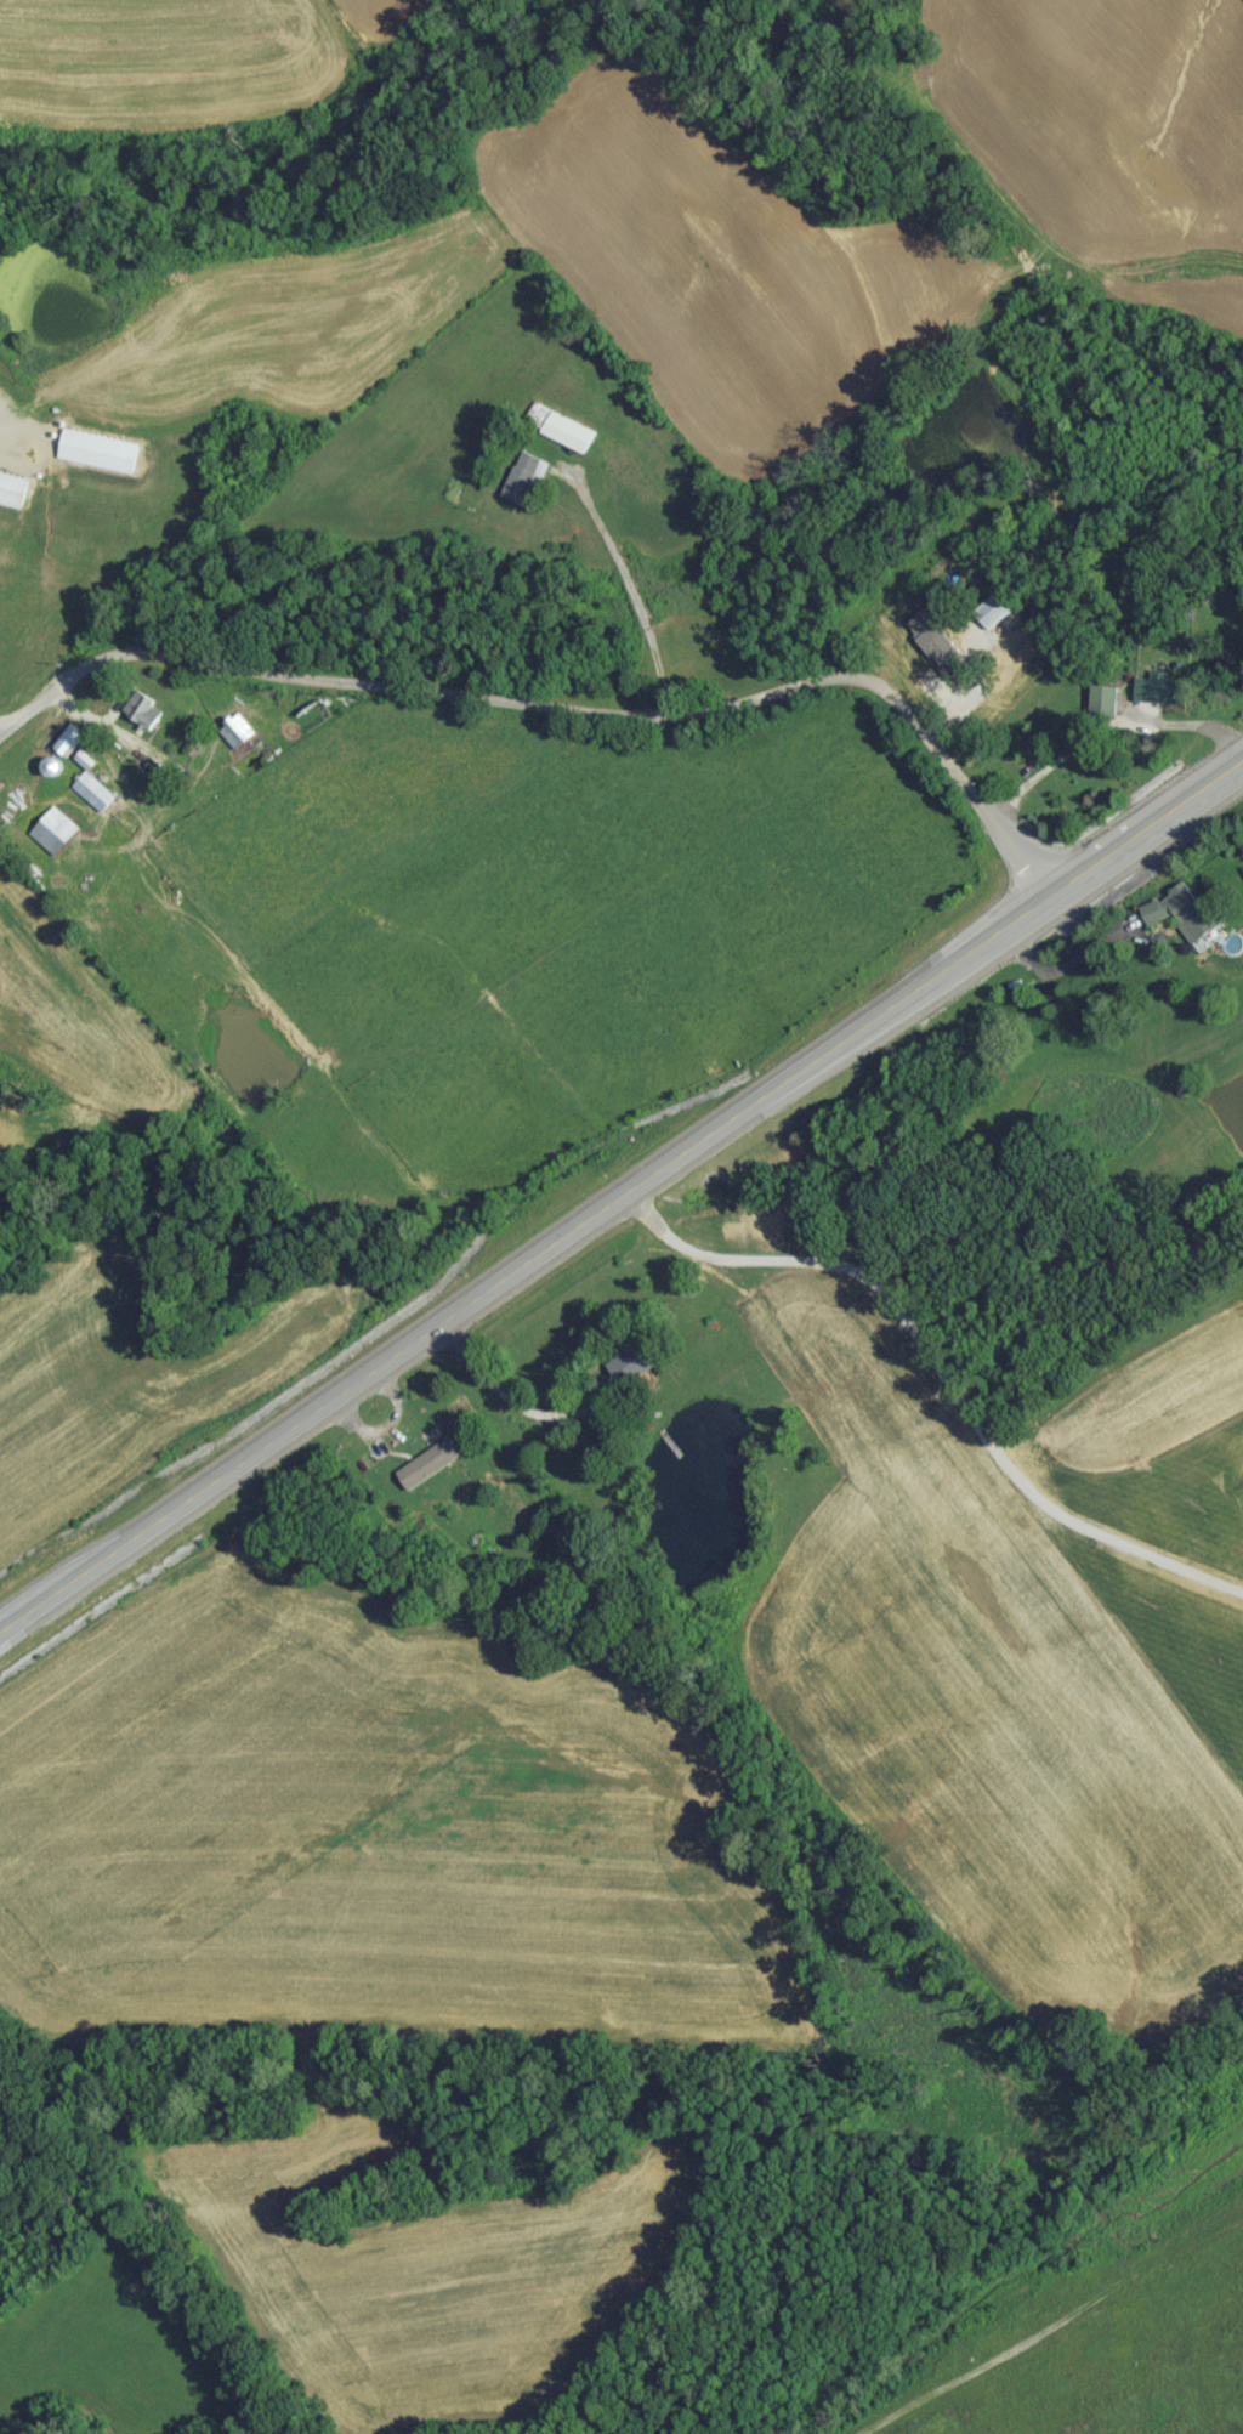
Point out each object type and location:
building: (572, 439)
building: (100, 458)
building: (529, 487)
building: (15, 497)
building: (91, 500)
road: (637, 603)
building: (998, 617)
building: (1159, 697)
building: (149, 717)
road: (558, 719)
building: (322, 722)
building: (72, 747)
building: (248, 747)
building: (96, 799)
building: (57, 839)
building: (1187, 919)
road: (620, 1197)
building: (641, 1373)
road: (501, 1390)

